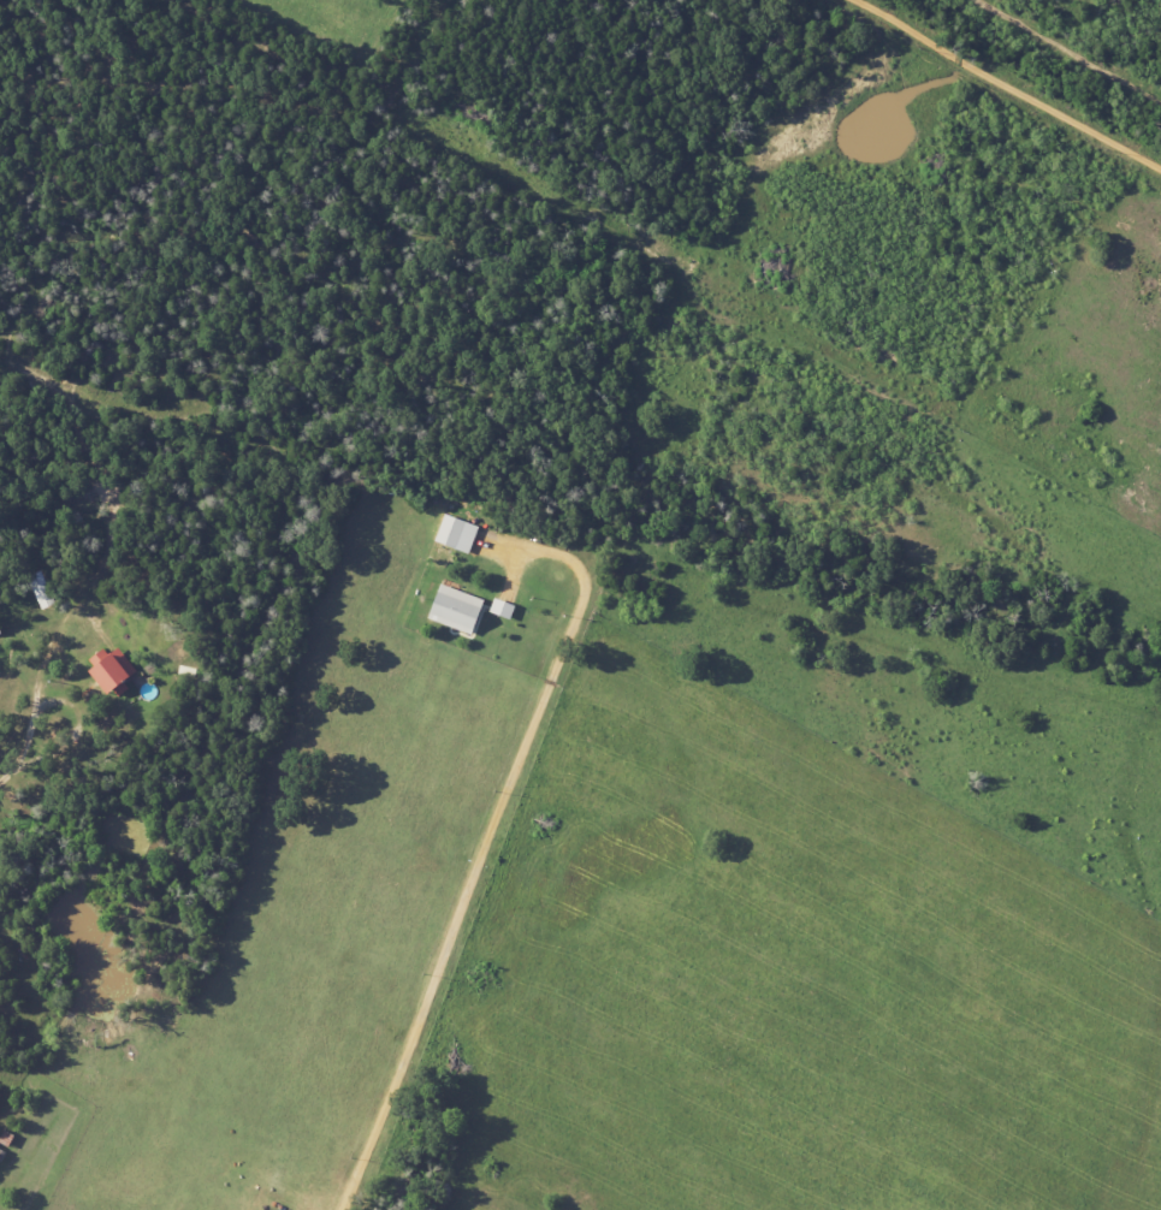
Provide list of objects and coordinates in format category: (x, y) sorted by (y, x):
road: (1001, 85)
building: (458, 534)
building: (43, 589)
building: (504, 609)
building: (460, 610)
building: (113, 674)
road: (34, 714)
road: (487, 840)

